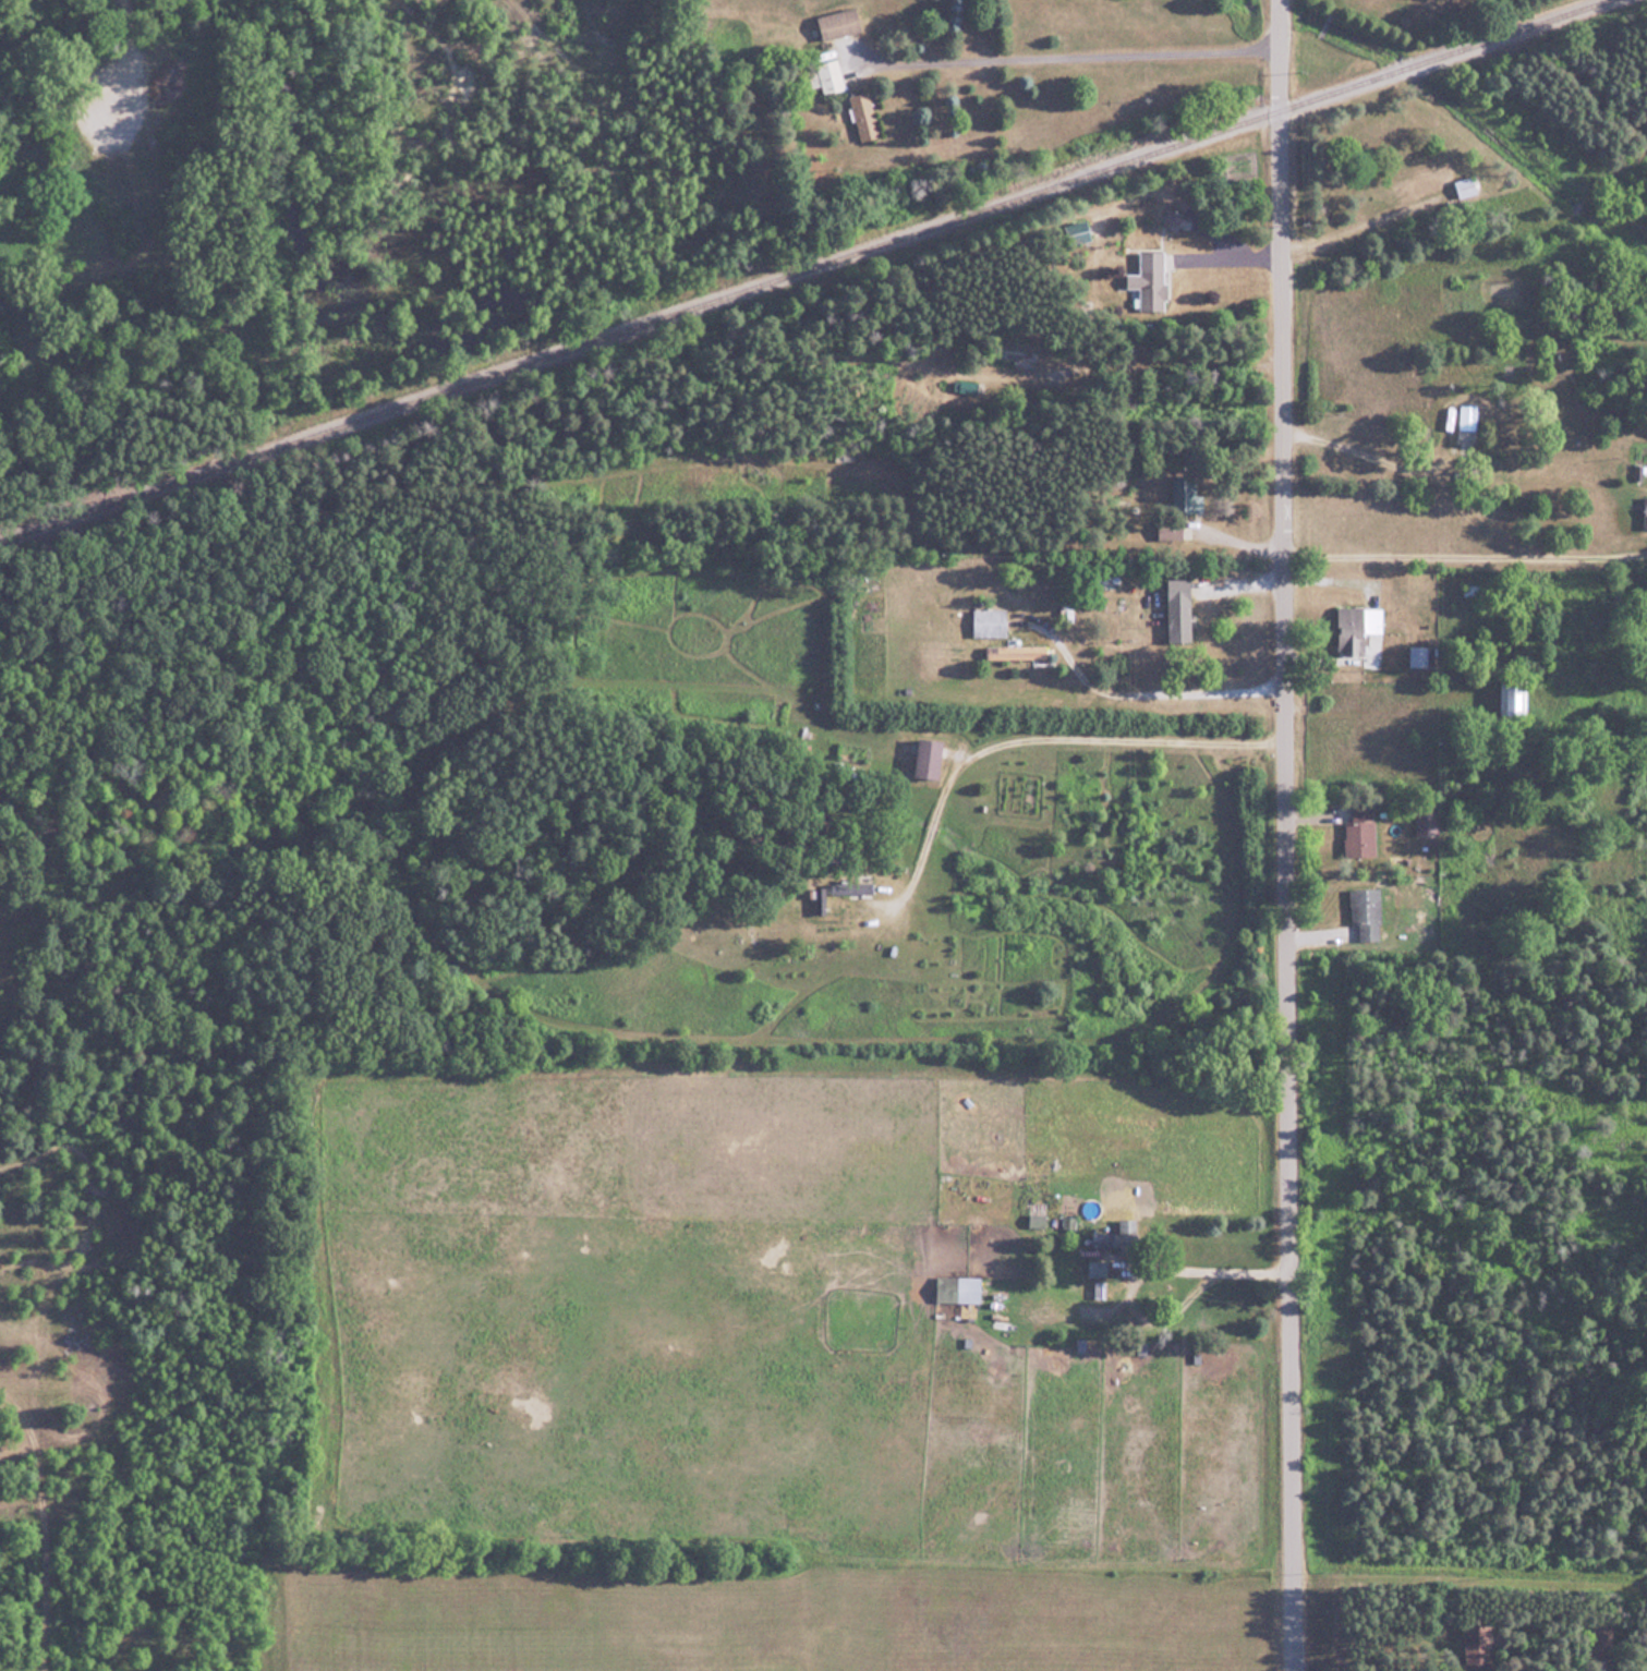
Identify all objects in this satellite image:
building: (839, 22)
road: (1081, 53)
building: (829, 75)
building: (864, 114)
road: (191, 141)
building: (84, 145)
building: (1436, 181)
building: (1173, 218)
building: (1079, 231)
railway: (812, 270)
building: (1149, 281)
building: (1020, 358)
building: (891, 368)
building: (1467, 423)
road: (1360, 451)
building: (861, 484)
building: (1184, 493)
building: (1645, 512)
building: (1171, 529)
road: (1465, 544)
building: (1478, 591)
building: (1179, 609)
building: (990, 617)
building: (1357, 628)
building: (1017, 651)
building: (1419, 655)
road: (1138, 692)
building: (1515, 697)
building: (931, 759)
building: (1427, 820)
building: (1360, 833)
road: (1285, 835)
building: (820, 900)
building: (1367, 912)
building: (1118, 1235)
building: (1098, 1267)
road: (1210, 1269)
building: (959, 1288)
building: (1475, 1642)

